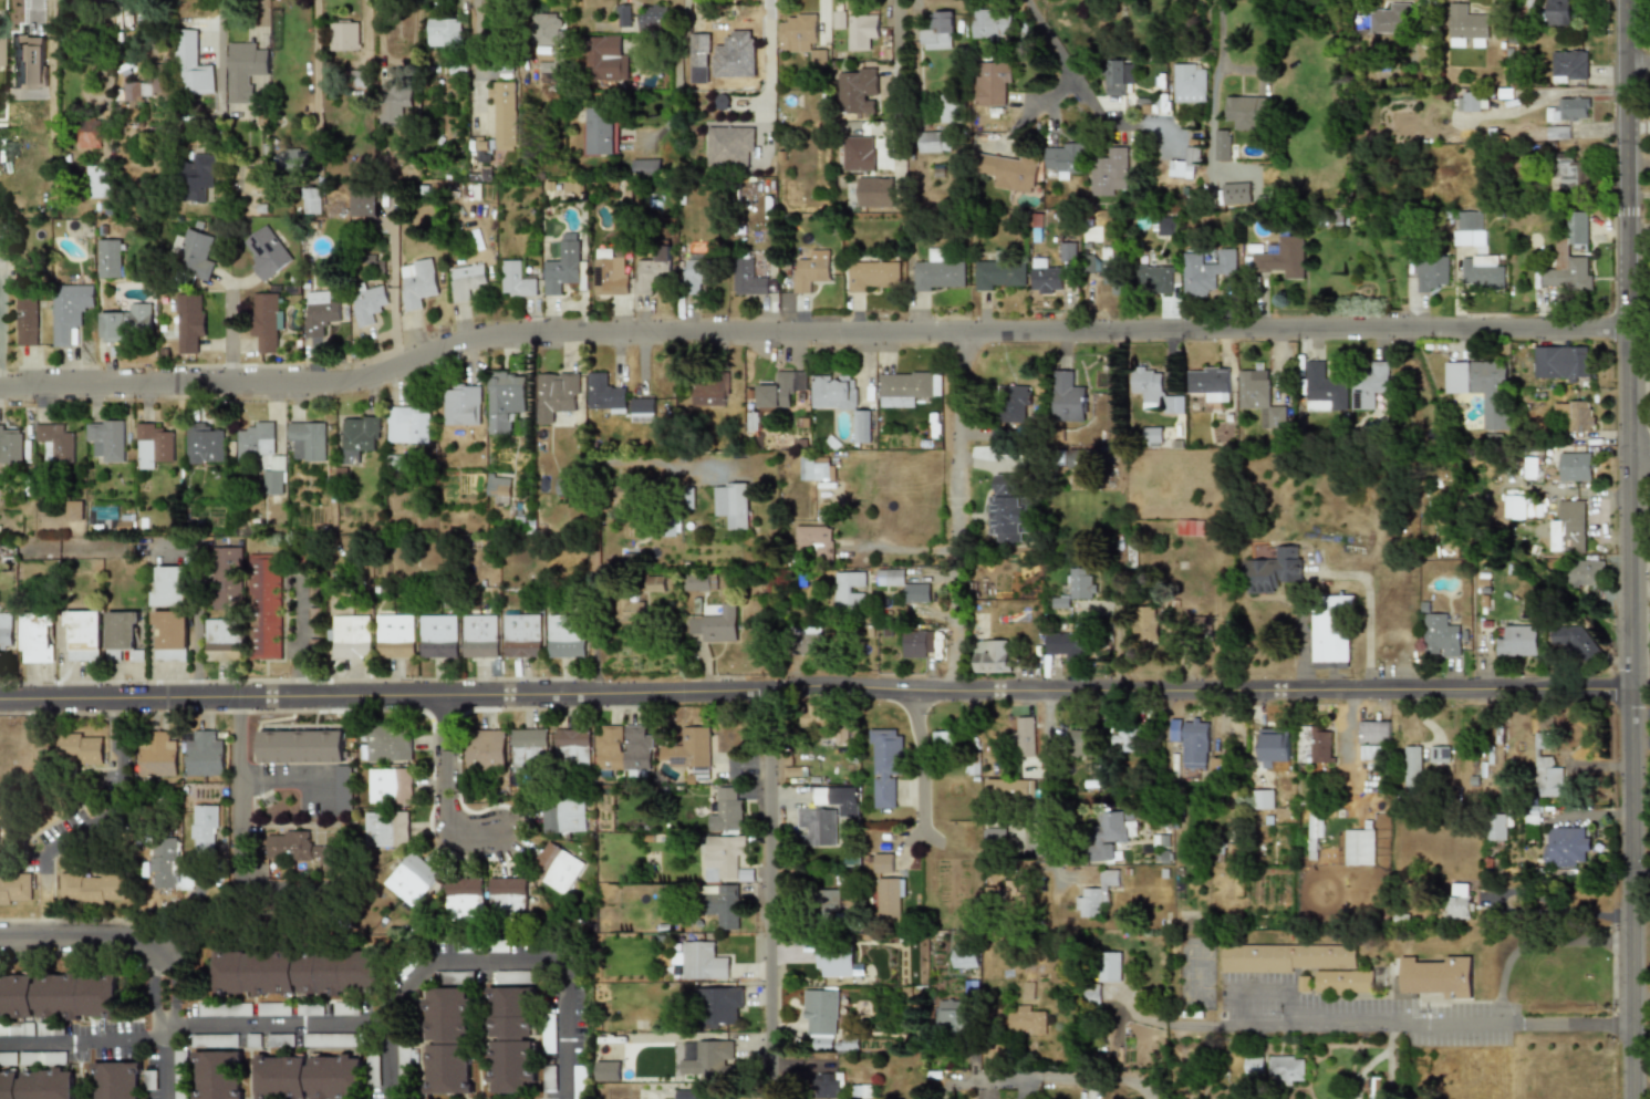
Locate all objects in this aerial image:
building: (1555, 12)
building: (626, 15)
building: (653, 18)
building: (1390, 19)
building: (838, 20)
building: (1466, 23)
building: (988, 24)
building: (546, 29)
building: (861, 30)
building: (936, 31)
road: (110, 32)
building: (446, 32)
building: (796, 32)
building: (345, 35)
building: (0, 44)
road: (767, 53)
road: (1221, 55)
road: (222, 56)
building: (606, 58)
building: (741, 60)
building: (194, 65)
road: (479, 65)
building: (1568, 66)
road: (677, 69)
building: (246, 70)
building: (1117, 75)
road: (1633, 76)
road: (896, 81)
building: (990, 82)
building: (1187, 83)
road: (1072, 86)
building: (857, 90)
road: (91, 96)
building: (1466, 102)
building: (396, 103)
road: (1044, 103)
building: (1571, 108)
building: (1245, 111)
building: (502, 123)
building: (602, 131)
building: (1557, 133)
building: (933, 142)
building: (730, 146)
building: (858, 153)
building: (1063, 159)
building: (294, 160)
building: (1183, 164)
building: (645, 167)
building: (1006, 169)
building: (1108, 172)
building: (200, 177)
building: (252, 178)
building: (101, 182)
building: (874, 188)
building: (364, 201)
building: (390, 207)
building: (1164, 227)
building: (1465, 227)
building: (268, 251)
building: (197, 253)
building: (1280, 256)
building: (113, 258)
building: (1570, 258)
building: (565, 267)
building: (655, 270)
building: (1205, 270)
building: (811, 271)
building: (938, 271)
building: (612, 272)
building: (1481, 272)
building: (697, 273)
building: (1108, 273)
building: (1431, 273)
building: (871, 274)
building: (1000, 274)
building: (748, 278)
building: (1046, 278)
building: (1156, 278)
building: (469, 280)
building: (520, 280)
building: (418, 282)
building: (369, 302)
building: (71, 308)
building: (321, 311)
building: (27, 318)
building: (193, 321)
building: (131, 322)
building: (268, 323)
road: (1, 325)
road: (807, 334)
road: (230, 343)
building: (1561, 363)
road: (1118, 381)
building: (1148, 381)
building: (1211, 382)
building: (1370, 385)
building: (1481, 386)
building: (906, 387)
building: (1322, 388)
building: (781, 390)
building: (714, 392)
building: (609, 393)
building: (560, 394)
building: (1070, 394)
building: (1260, 396)
building: (508, 400)
building: (840, 400)
building: (465, 402)
building: (1016, 402)
building: (646, 408)
building: (1576, 414)
building: (411, 425)
building: (1152, 436)
building: (360, 437)
building: (106, 439)
building: (55, 442)
building: (308, 442)
building: (206, 444)
building: (10, 445)
building: (153, 446)
road: (1636, 453)
building: (278, 462)
building: (1574, 466)
building: (816, 468)
building: (1080, 469)
building: (458, 486)
building: (567, 486)
building: (502, 487)
building: (735, 504)
building: (1514, 507)
building: (1007, 508)
building: (73, 510)
road: (954, 512)
building: (1571, 525)
road: (596, 529)
building: (812, 531)
road: (173, 548)
road: (1623, 549)
building: (1272, 570)
road: (1335, 573)
building: (1585, 573)
building: (227, 578)
building: (902, 583)
building: (1082, 583)
building: (657, 584)
building: (169, 585)
building: (848, 590)
building: (266, 606)
building: (636, 611)
building: (1149, 622)
building: (716, 624)
building: (1200, 625)
building: (6, 629)
building: (1330, 629)
building: (124, 632)
building: (83, 635)
road: (301, 635)
building: (396, 635)
building: (438, 635)
building: (480, 635)
building: (523, 635)
building: (568, 635)
building: (1440, 635)
building: (38, 636)
building: (169, 636)
building: (351, 636)
building: (1574, 639)
building: (222, 640)
building: (1517, 641)
building: (809, 642)
road: (1117, 642)
building: (916, 643)
building: (1070, 644)
building: (993, 655)
road: (811, 687)
building: (826, 723)
building: (1027, 735)
building: (943, 739)
building: (1127, 739)
building: (1371, 740)
building: (1085, 742)
building: (1193, 742)
building: (387, 743)
building: (303, 746)
building: (573, 746)
building: (1321, 747)
building: (82, 748)
building: (625, 748)
building: (530, 749)
building: (1269, 749)
building: (487, 750)
building: (693, 753)
building: (206, 755)
building: (1439, 755)
building: (159, 756)
road: (921, 761)
building: (885, 765)
building: (1412, 766)
building: (1220, 768)
building: (1491, 768)
road: (295, 773)
building: (1547, 777)
building: (392, 786)
building: (1011, 789)
road: (1048, 792)
road: (444, 798)
building: (1262, 799)
road: (120, 800)
building: (730, 808)
building: (564, 815)
road: (242, 823)
building: (1501, 826)
building: (816, 827)
building: (206, 829)
building: (387, 829)
building: (1314, 830)
building: (1112, 834)
building: (996, 840)
building: (1565, 846)
building: (295, 848)
building: (1359, 848)
building: (723, 856)
building: (328, 857)
building: (883, 862)
building: (165, 863)
building: (557, 868)
road: (1639, 874)
building: (745, 875)
building: (413, 879)
building: (94, 889)
building: (17, 890)
building: (1014, 893)
road: (768, 894)
building: (1097, 895)
building: (508, 898)
building: (892, 898)
building: (464, 900)
building: (829, 902)
building: (723, 904)
building: (1457, 906)
road: (1563, 913)
road: (86, 934)
road: (1532, 941)
building: (966, 956)
building: (703, 961)
building: (834, 961)
building: (1301, 964)
building: (1109, 966)
road: (424, 968)
building: (298, 972)
building: (453, 976)
building: (1433, 977)
road: (162, 981)
building: (1303, 984)
building: (60, 995)
building: (723, 1005)
building: (347, 1008)
road: (163, 1009)
building: (226, 1009)
building: (276, 1009)
building: (312, 1009)
building: (821, 1013)
building: (954, 1017)
building: (1028, 1020)
road: (1397, 1024)
road: (164, 1028)
road: (1389, 1035)
road: (82, 1038)
building: (511, 1039)
building: (216, 1040)
building: (281, 1040)
building: (331, 1040)
building: (449, 1040)
building: (710, 1056)
building: (44, 1058)
road: (388, 1058)
building: (1254, 1065)
road: (165, 1068)
building: (1286, 1069)
building: (609, 1070)
road: (1364, 1070)
road: (1388, 1071)
building: (180, 1075)
building: (220, 1075)
building: (309, 1076)
road: (1068, 1079)
building: (118, 1080)
building: (38, 1084)
building: (829, 1085)
road: (1155, 1089)
building: (864, 1091)
building: (696, 1093)

